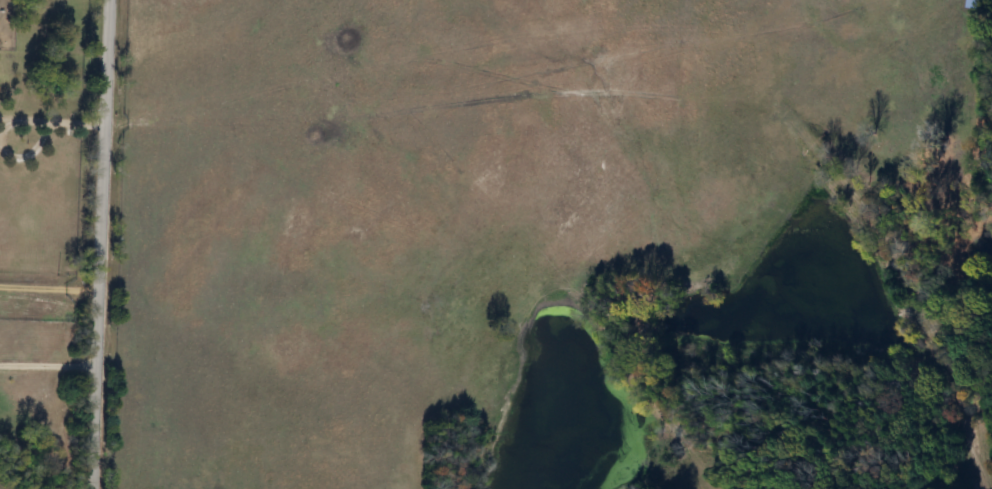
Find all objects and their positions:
road: (52, 121)
road: (101, 244)
road: (50, 286)
road: (50, 365)

